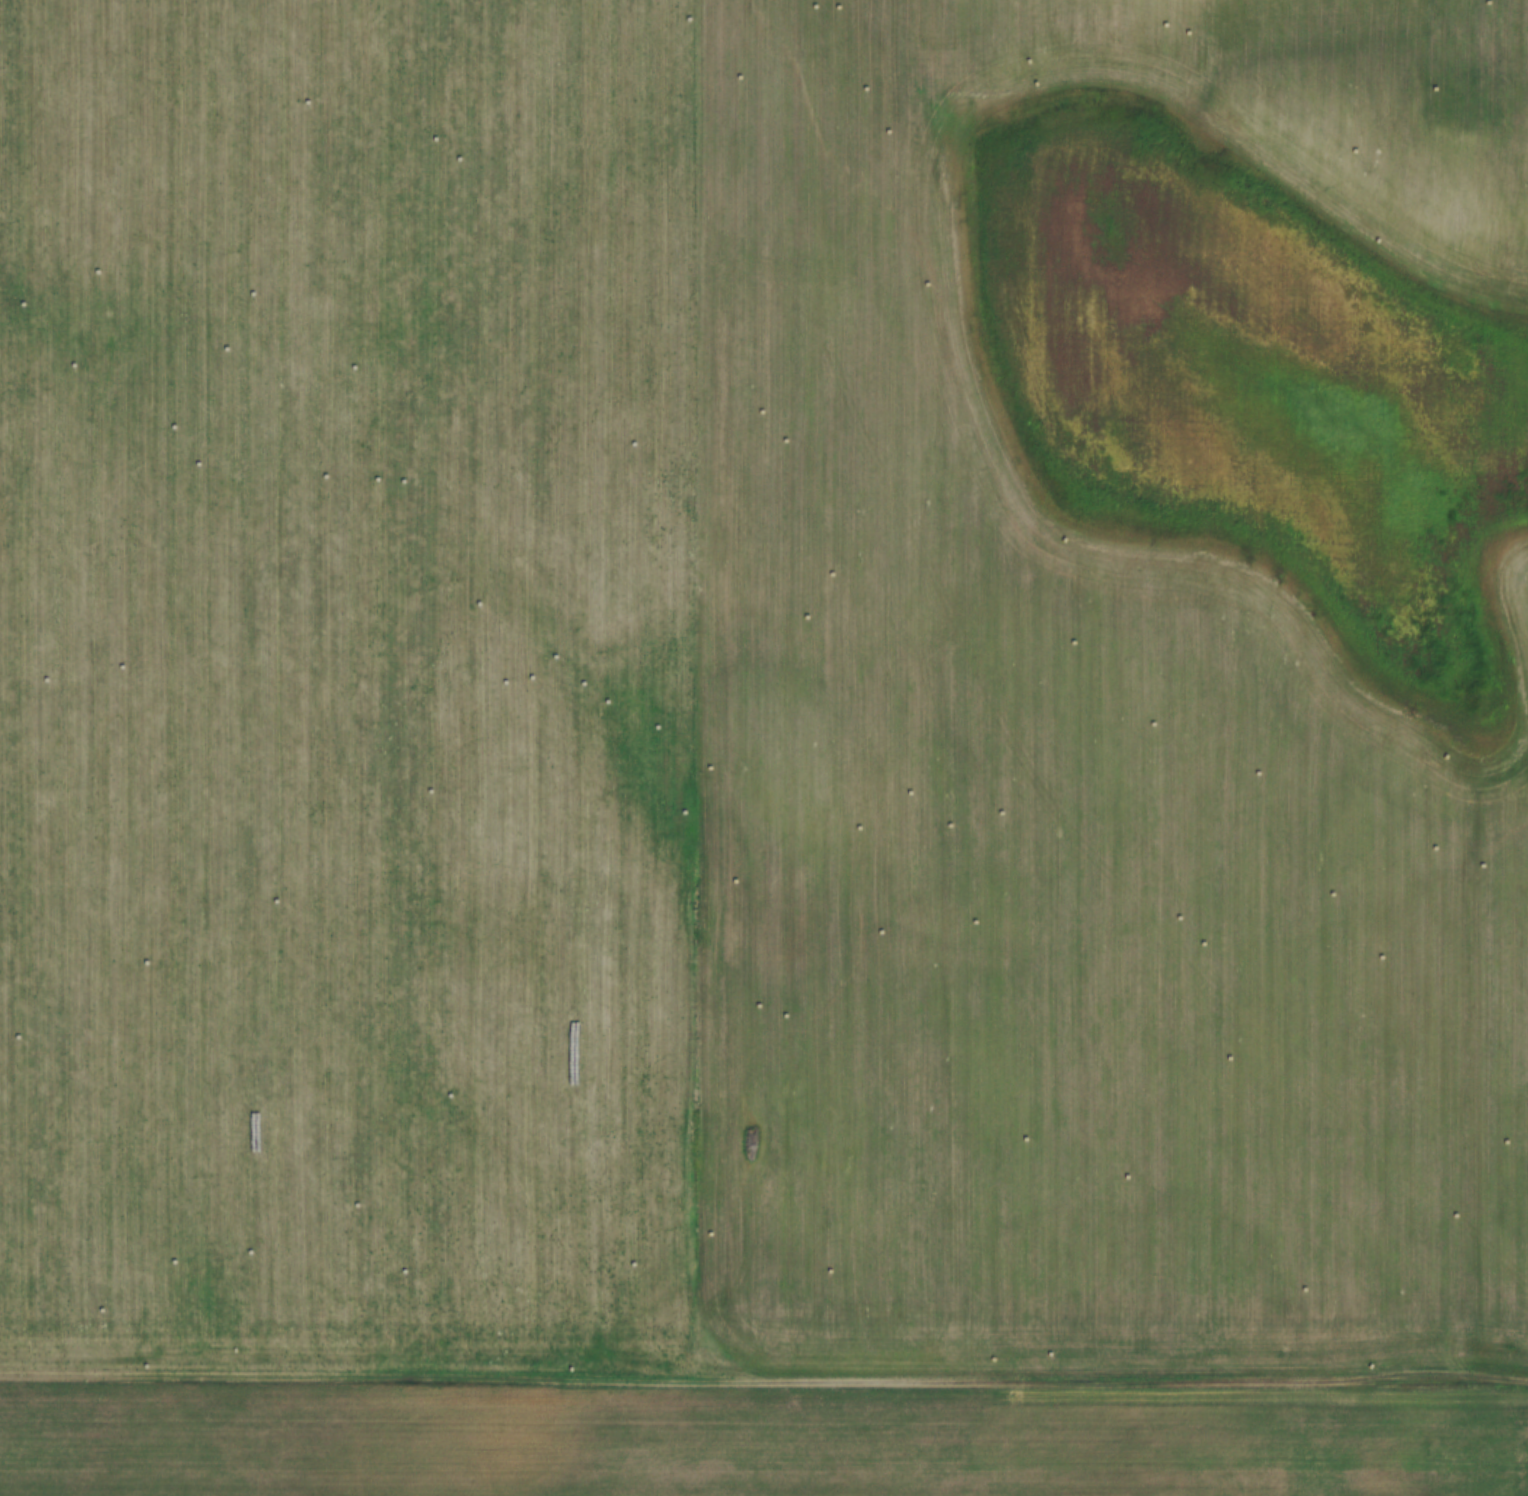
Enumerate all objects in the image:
road: (763, 1393)

